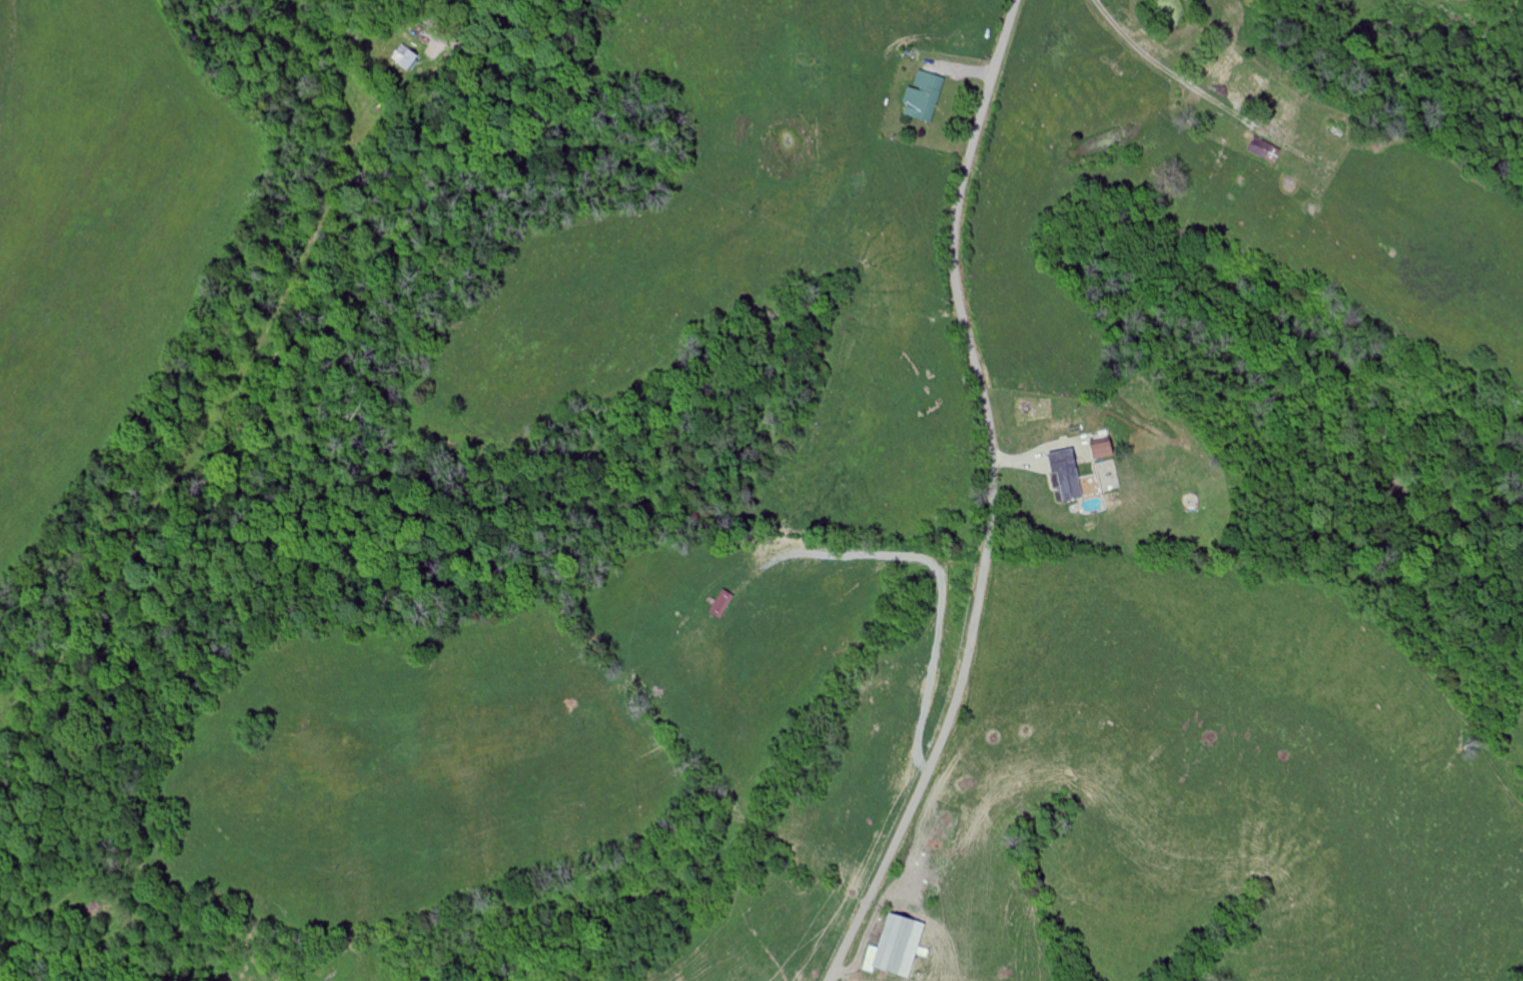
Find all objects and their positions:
road: (451, 20)
building: (407, 58)
building: (926, 97)
building: (1104, 448)
building: (1070, 474)
road: (991, 499)
building: (900, 948)

